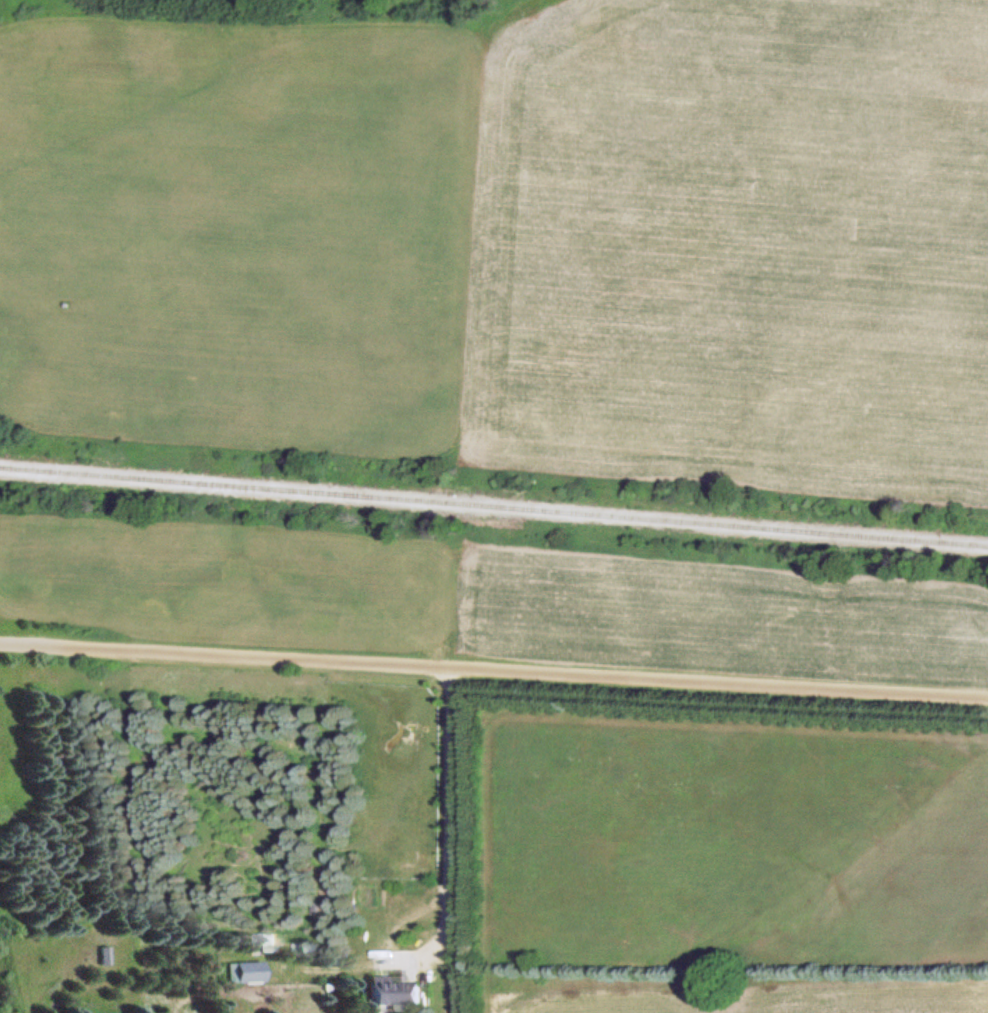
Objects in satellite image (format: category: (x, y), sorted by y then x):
railway: (494, 506)
road: (494, 672)
building: (265, 942)
building: (243, 971)
building: (387, 990)

